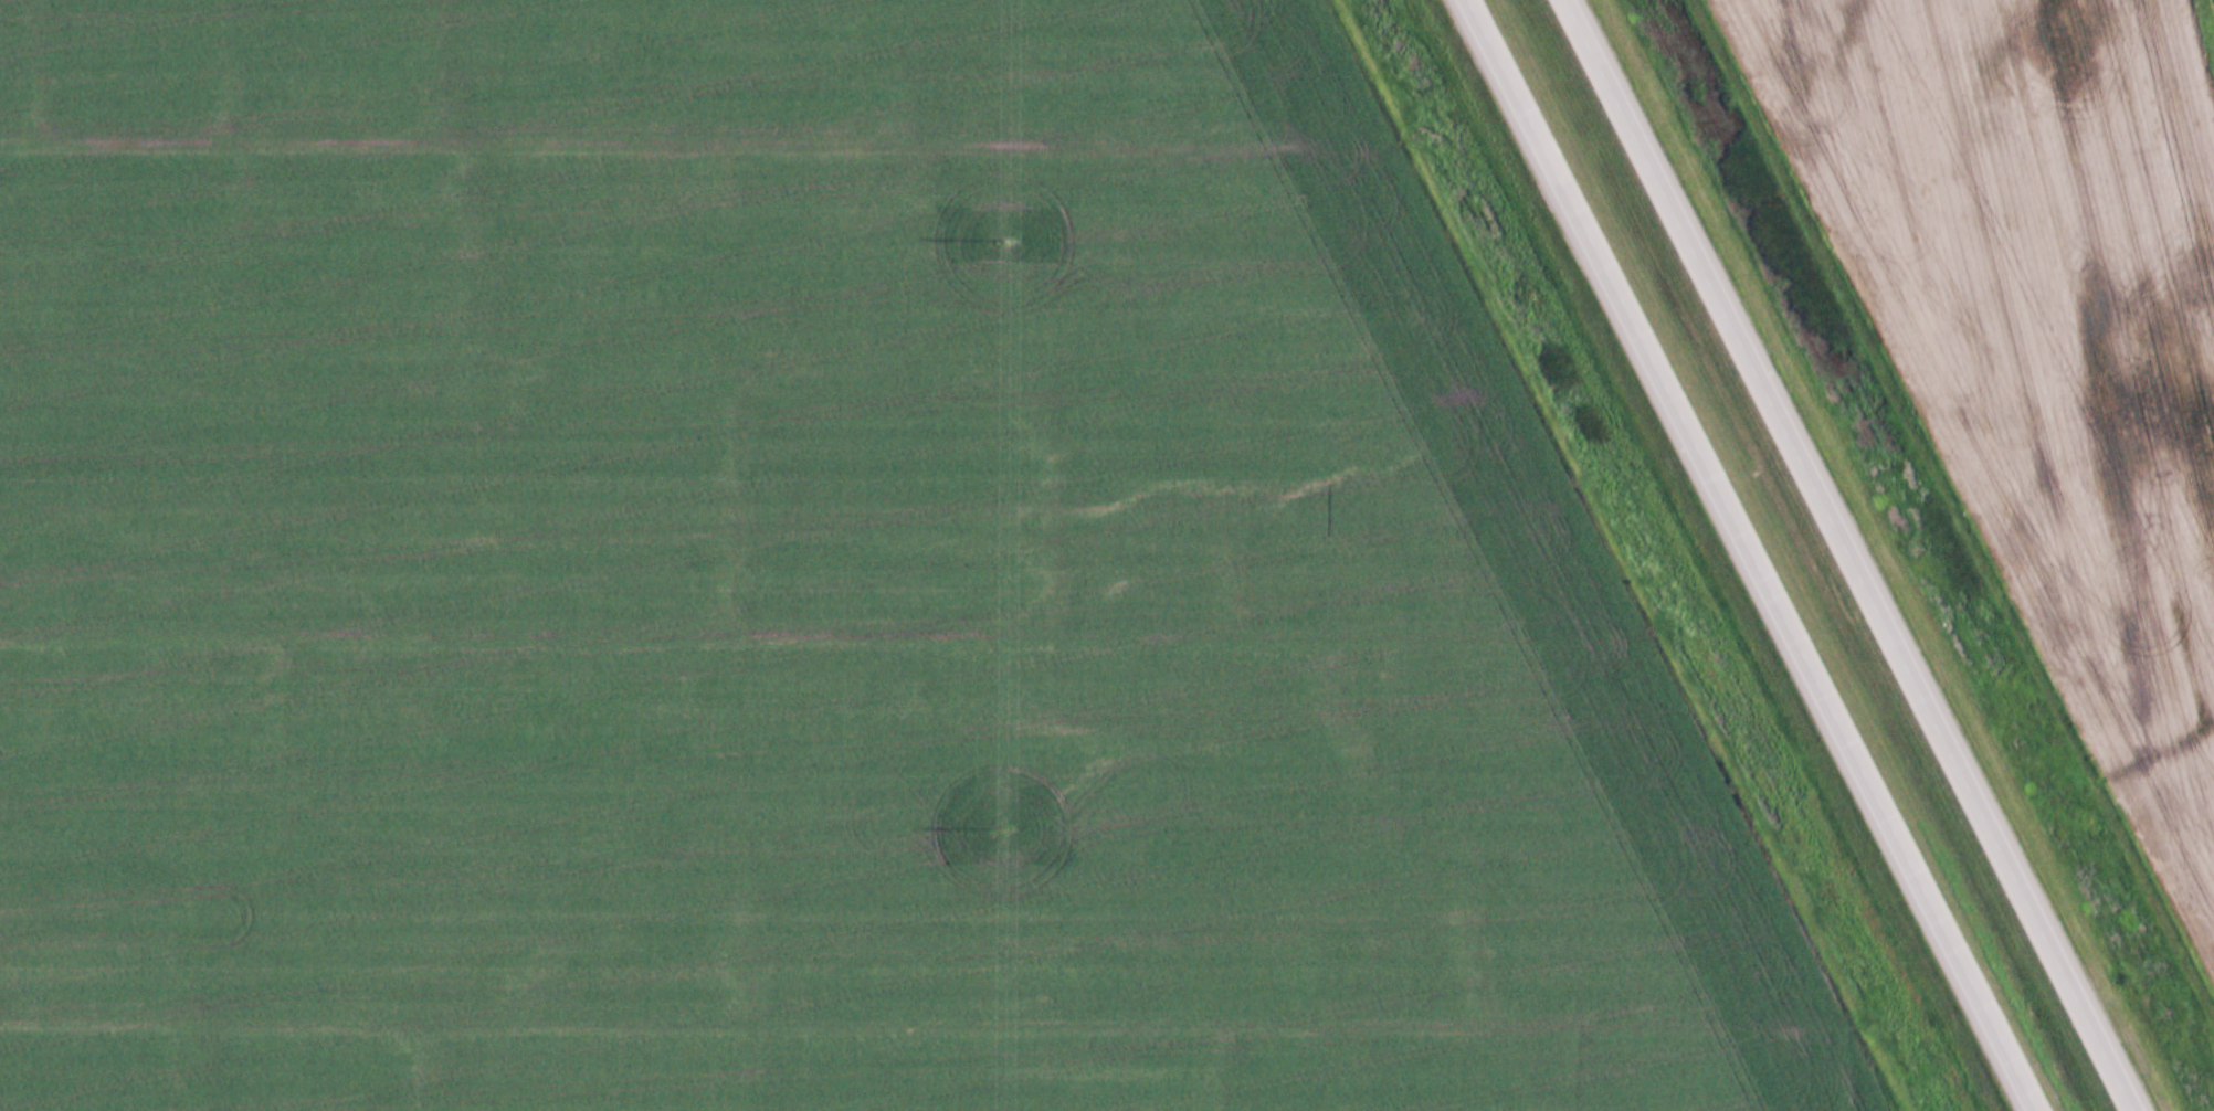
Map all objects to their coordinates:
power tower: (1010, 241)
road: (1753, 555)
road: (1848, 557)
power tower: (994, 827)

